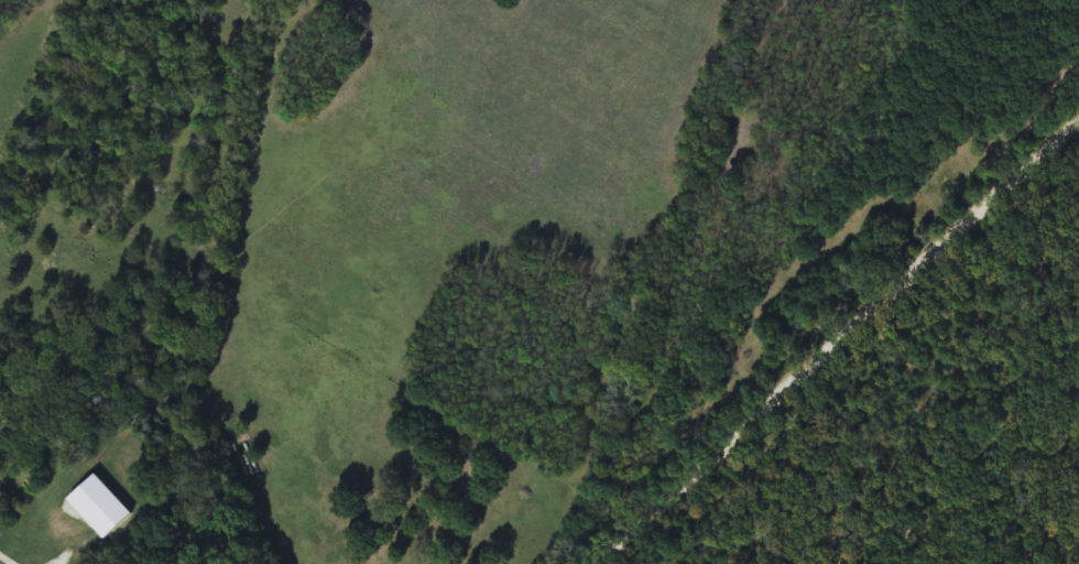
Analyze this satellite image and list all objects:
road: (839, 341)
road: (9, 556)

